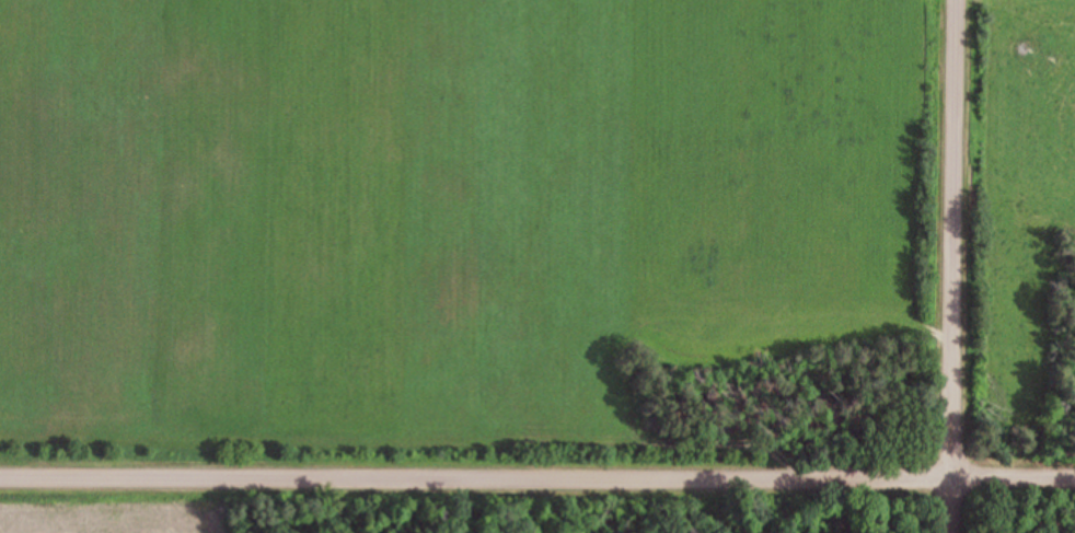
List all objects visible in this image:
road: (945, 266)
road: (536, 485)

